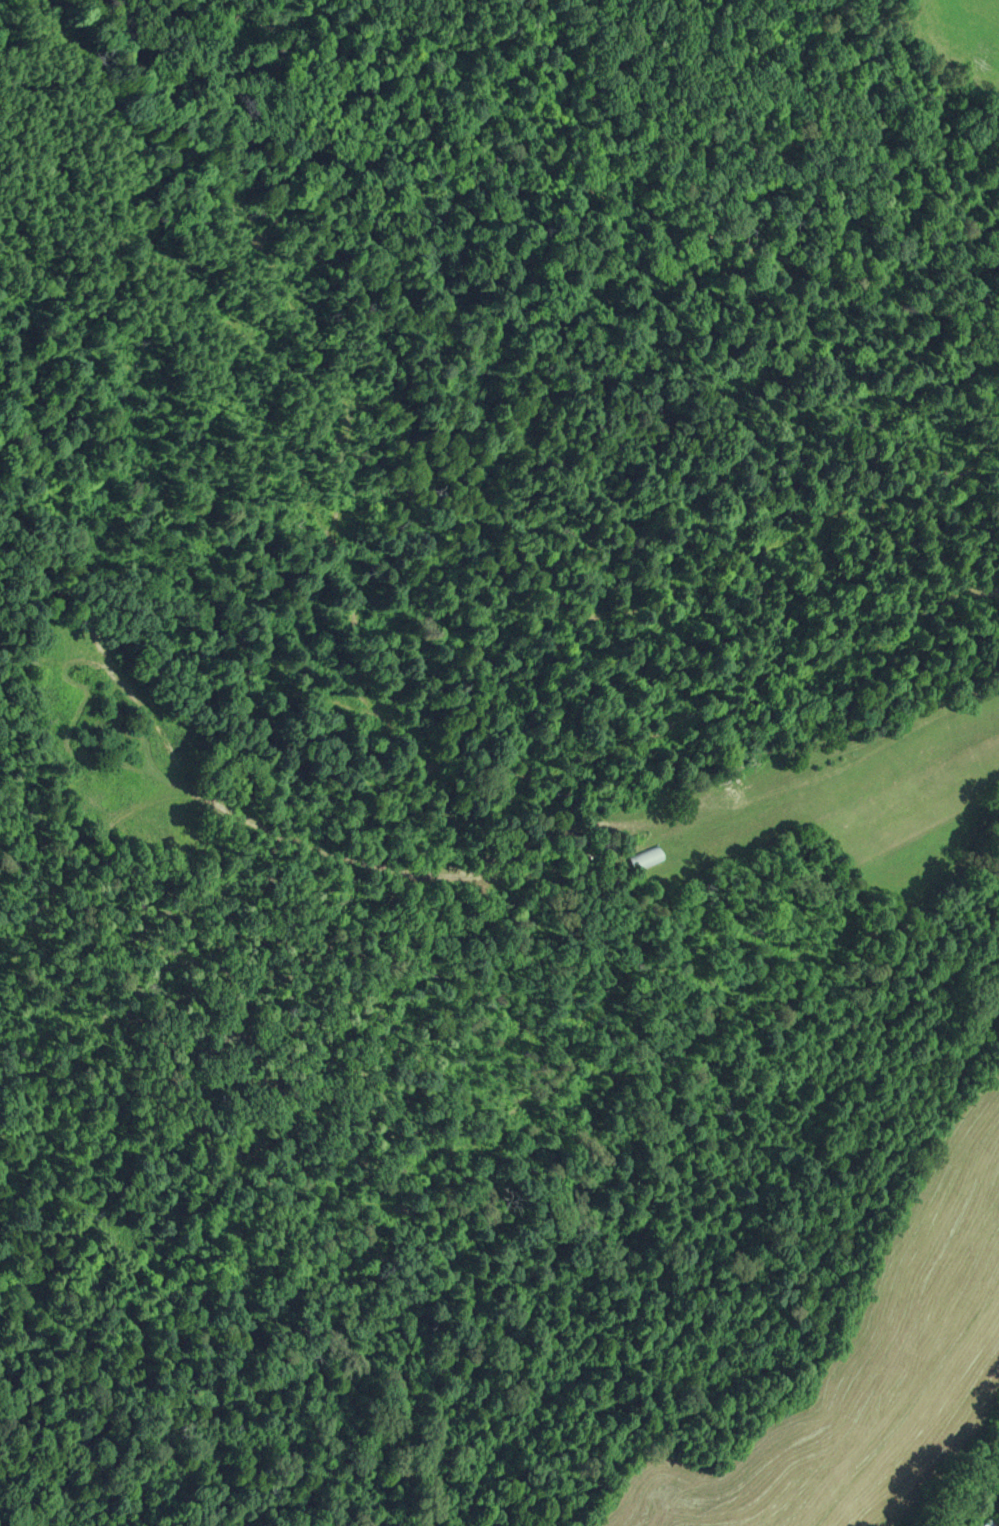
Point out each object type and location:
building: (990, 1524)

